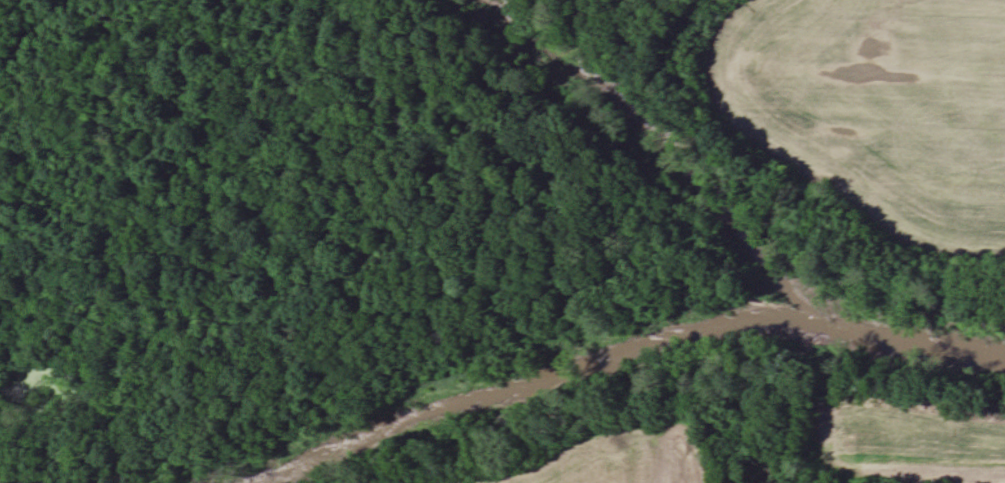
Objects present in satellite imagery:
crop: (876, 108)
river: (630, 341)
crop: (614, 452)
crop: (979, 467)

